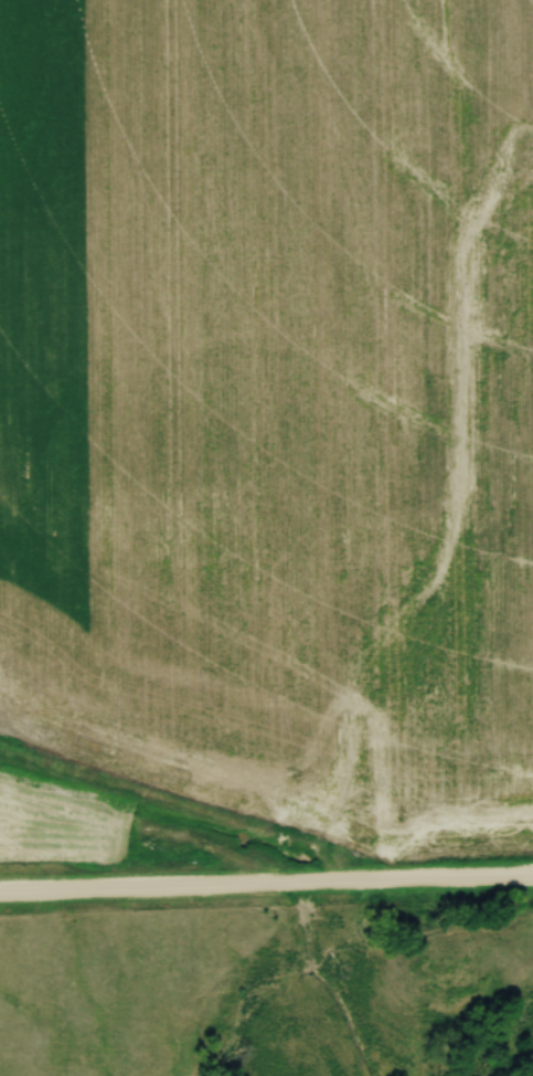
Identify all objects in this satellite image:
road: (266, 890)

